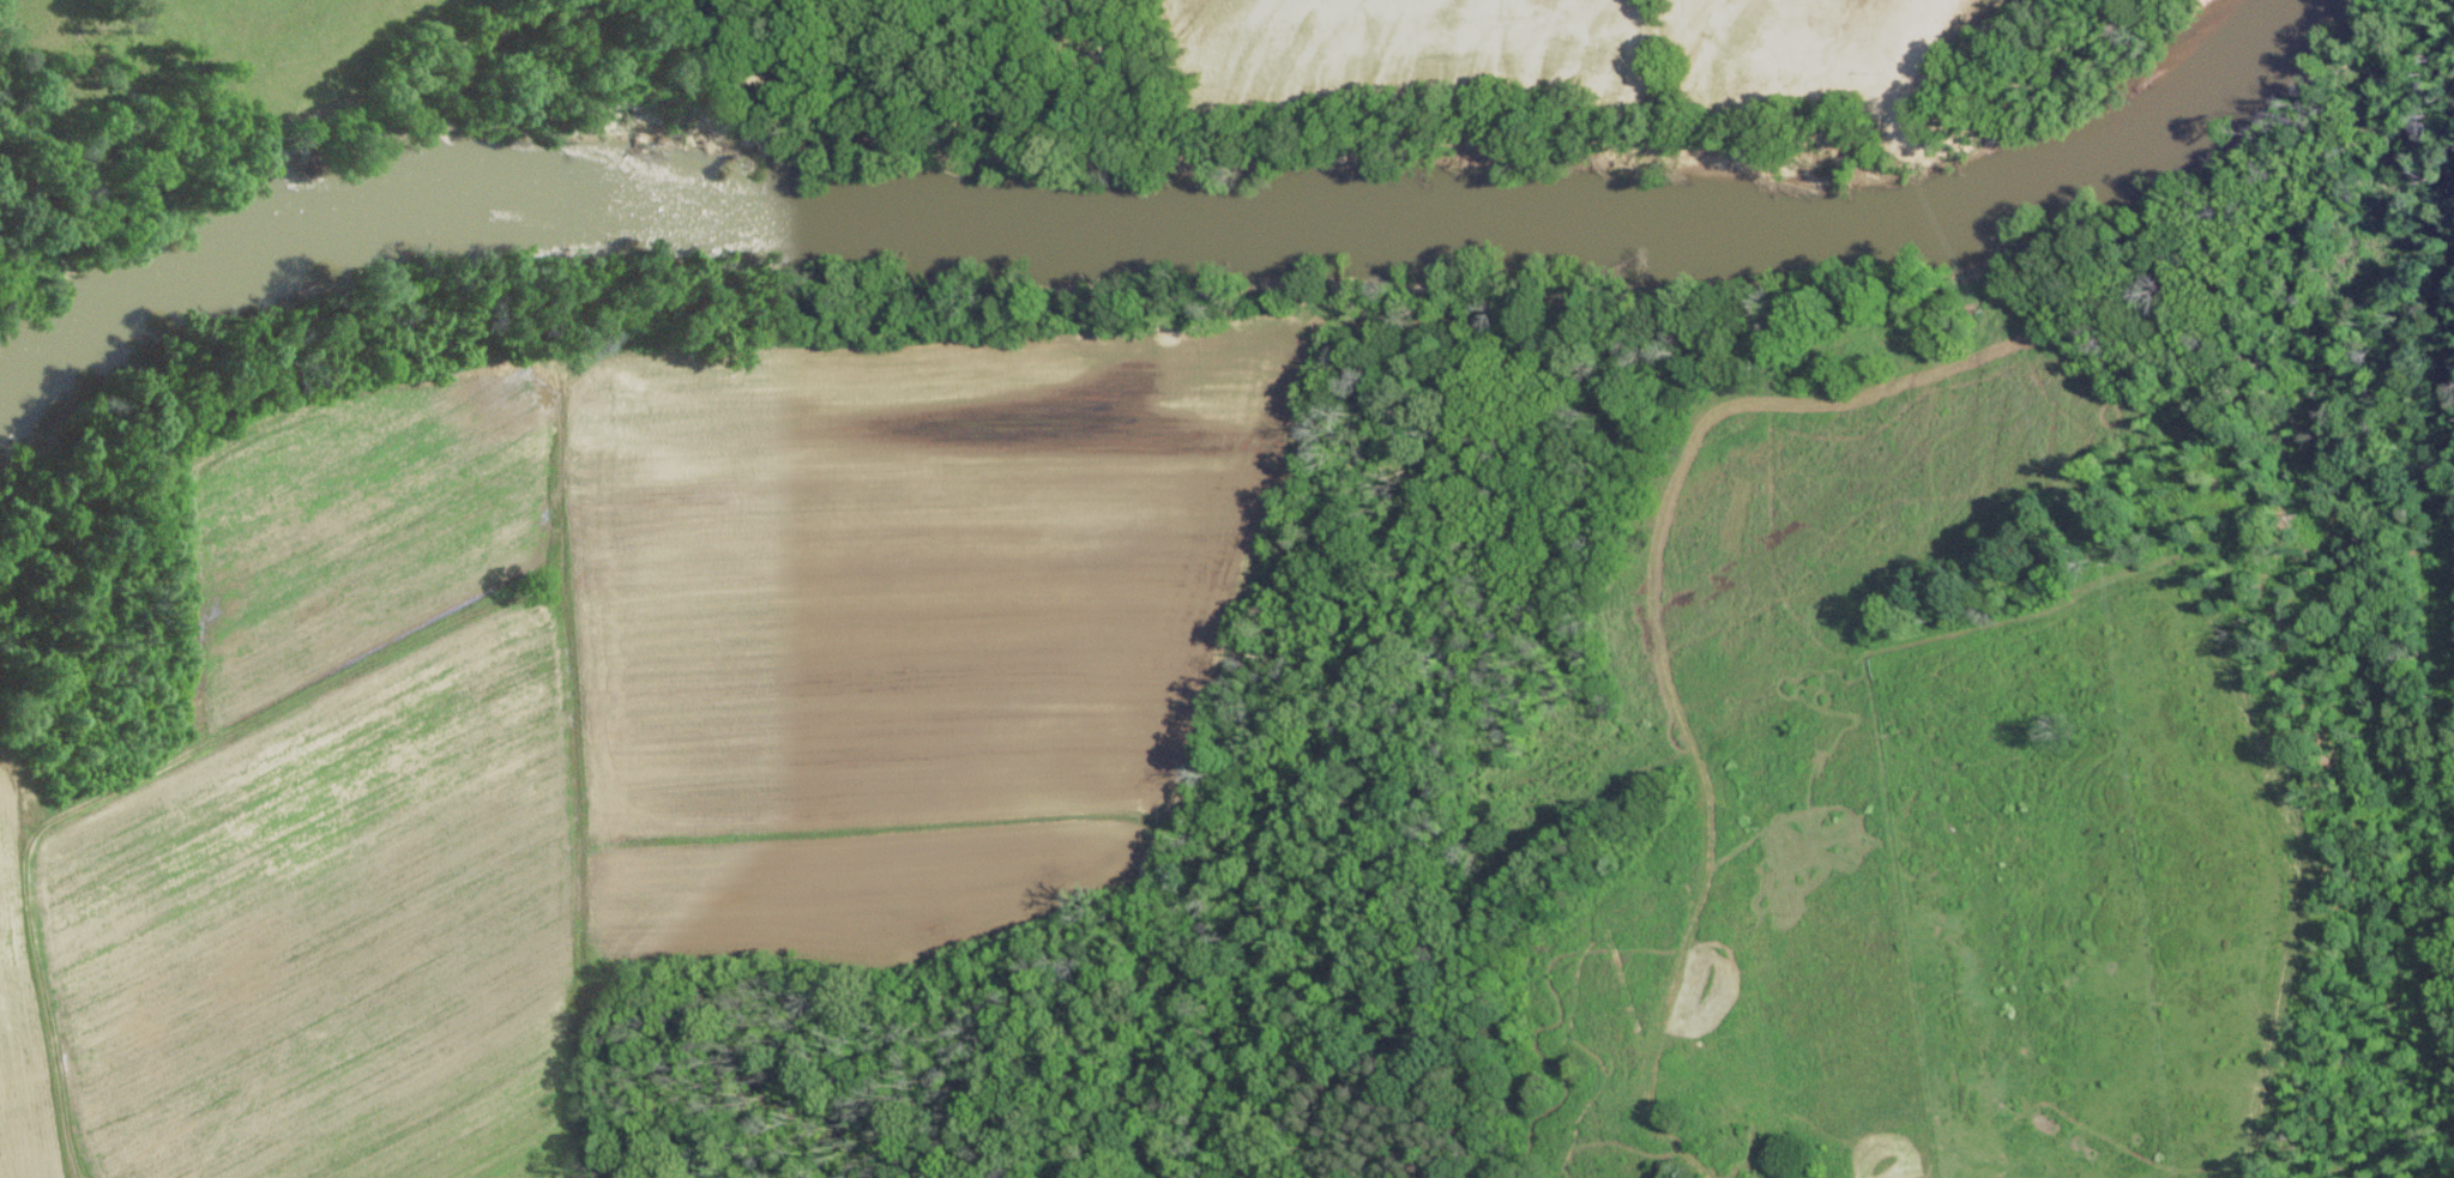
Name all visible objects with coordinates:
river: (2140, 90)
river: (958, 206)
river: (1759, 222)
river: (261, 254)
river: (48, 363)

